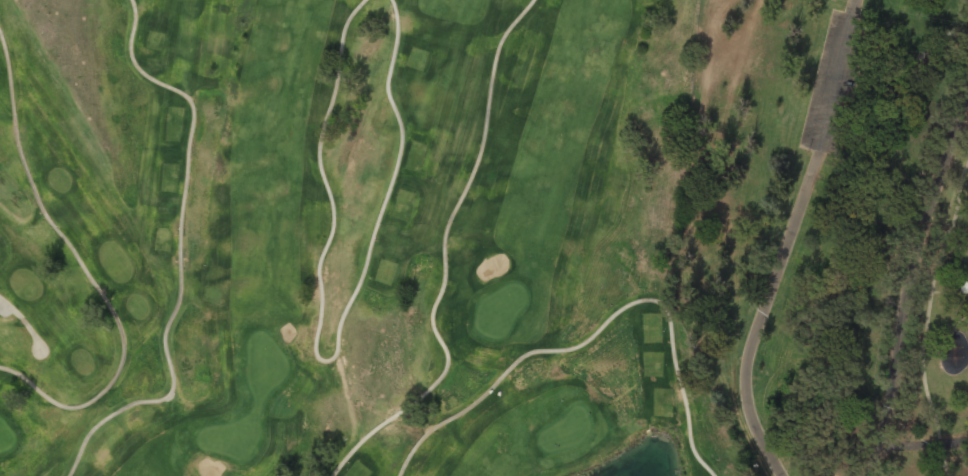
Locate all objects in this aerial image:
parking lot: (828, 81)
road: (966, 94)
park: (831, 232)
park: (348, 239)
road: (788, 241)
road: (179, 252)
road: (444, 256)
road: (85, 270)
road: (923, 280)
building: (964, 287)
road: (925, 317)
road: (24, 321)
road: (597, 329)
road: (325, 360)
road: (927, 439)

